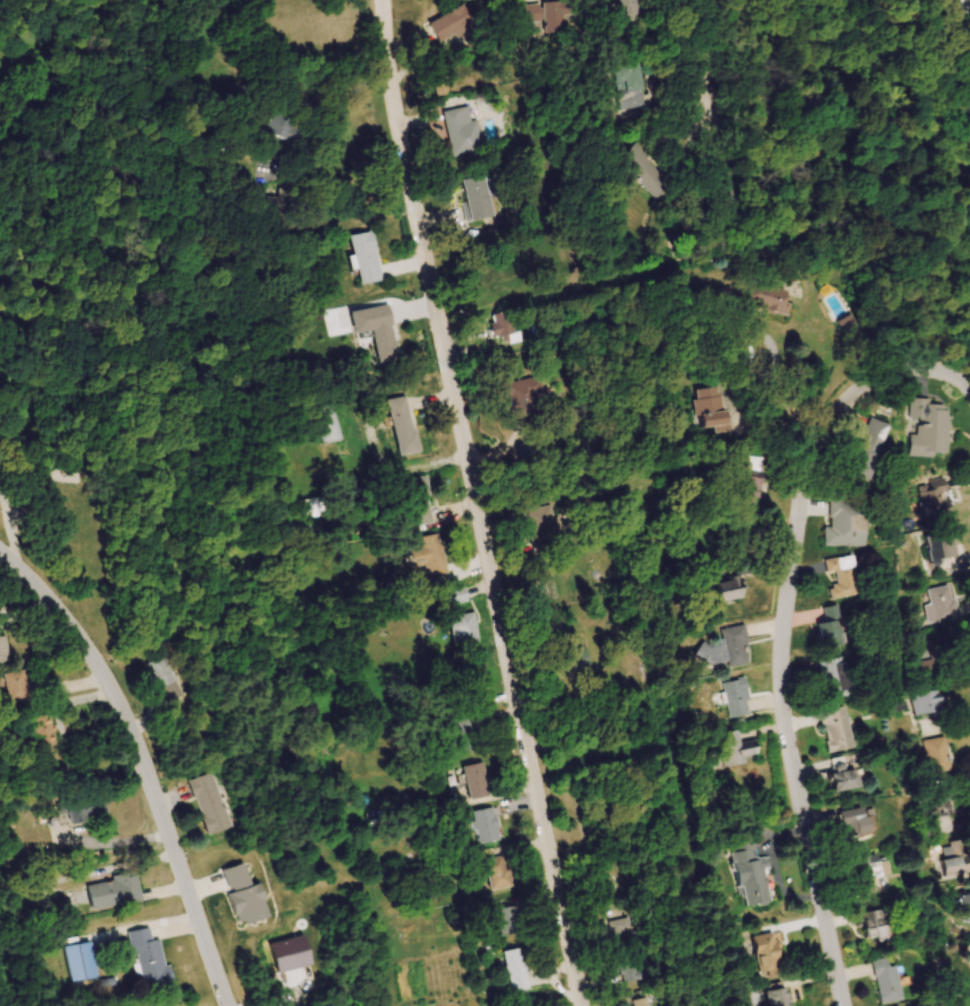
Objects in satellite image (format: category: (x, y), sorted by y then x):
building: (638, 8)
building: (552, 16)
building: (452, 25)
road: (706, 52)
building: (635, 86)
road: (327, 122)
building: (463, 132)
building: (285, 133)
building: (650, 174)
building: (731, 195)
building: (478, 198)
building: (367, 257)
building: (776, 299)
building: (507, 329)
building: (385, 337)
road: (772, 362)
road: (941, 371)
building: (527, 398)
building: (713, 408)
building: (331, 424)
building: (404, 427)
building: (934, 427)
building: (873, 443)
building: (754, 475)
building: (939, 497)
building: (420, 501)
road: (477, 503)
building: (843, 530)
building: (840, 579)
building: (938, 603)
building: (732, 646)
road: (782, 663)
building: (736, 698)
building: (837, 736)
building: (732, 748)
building: (934, 758)
road: (144, 762)
building: (840, 775)
building: (474, 780)
building: (207, 803)
building: (937, 803)
building: (83, 809)
building: (851, 821)
building: (484, 825)
road: (110, 842)
building: (953, 859)
road: (628, 865)
building: (867, 869)
building: (496, 872)
building: (748, 873)
building: (112, 891)
building: (241, 895)
building: (964, 903)
building: (505, 920)
building: (873, 925)
building: (619, 929)
building: (289, 953)
building: (765, 953)
building: (146, 958)
building: (79, 961)
building: (513, 969)
building: (884, 981)
building: (775, 997)
building: (639, 1002)

